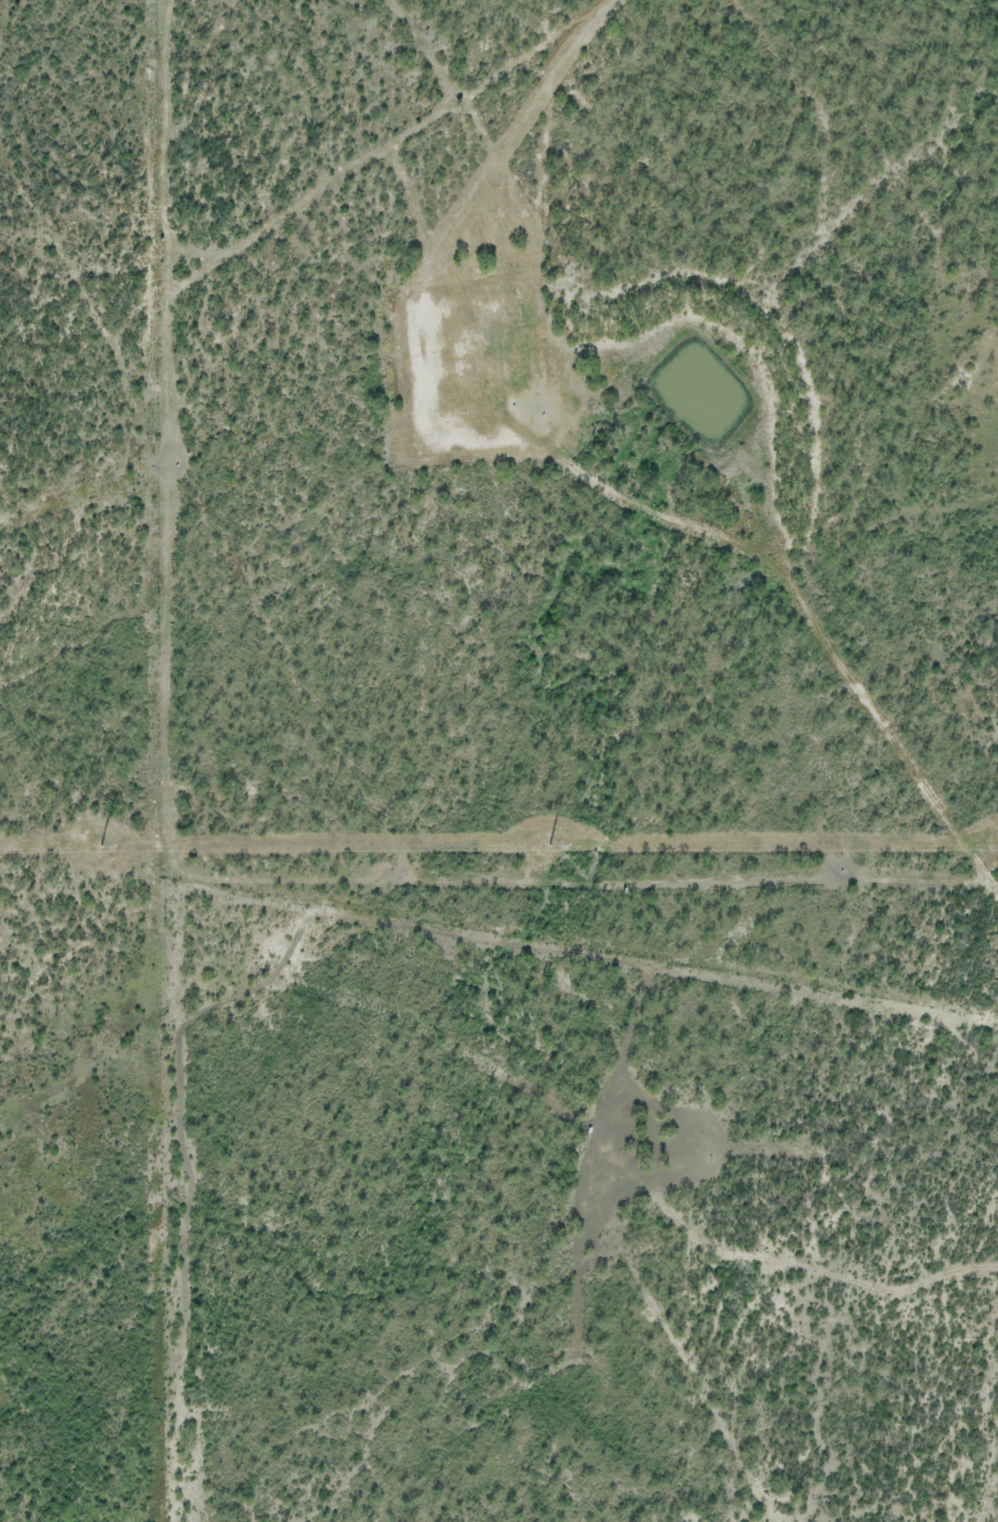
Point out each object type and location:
power tower: (102, 843)
power tower: (550, 844)

